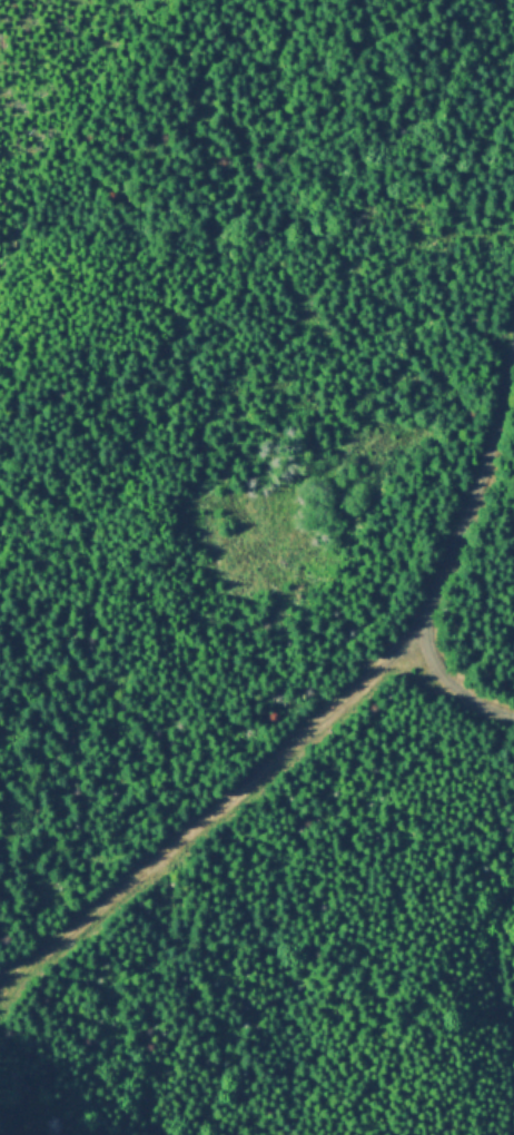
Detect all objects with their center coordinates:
road: (451, 567)
road: (215, 807)
road: (9, 1126)

